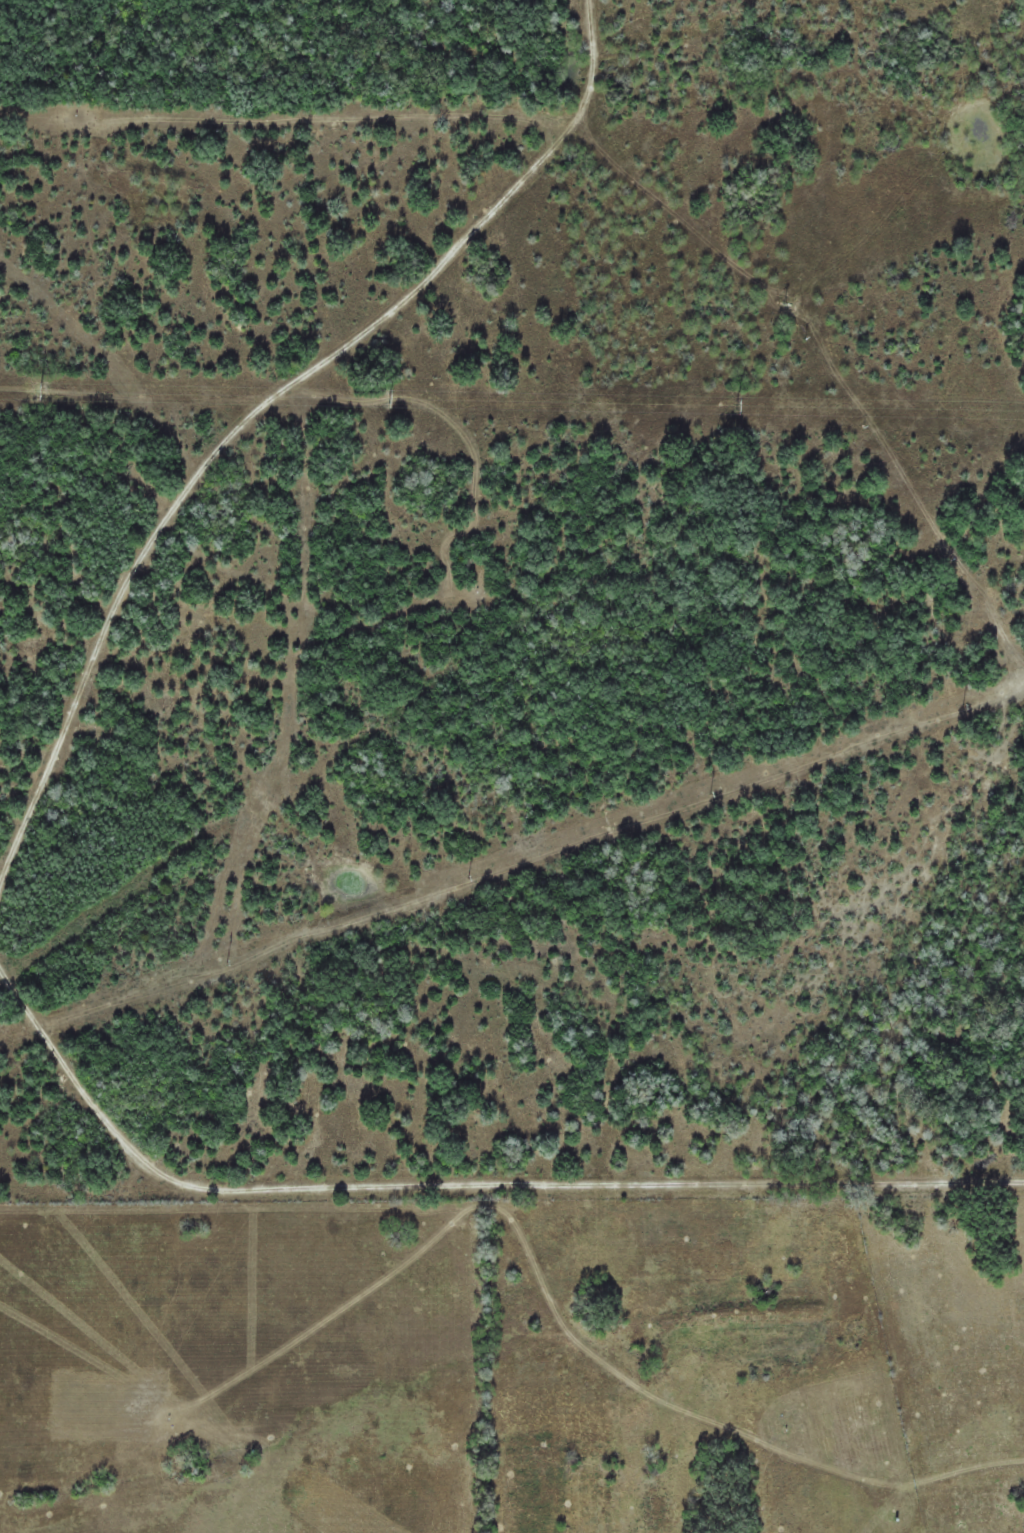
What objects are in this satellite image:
power tower: (42, 392)
power tower: (390, 400)
power tower: (737, 406)

